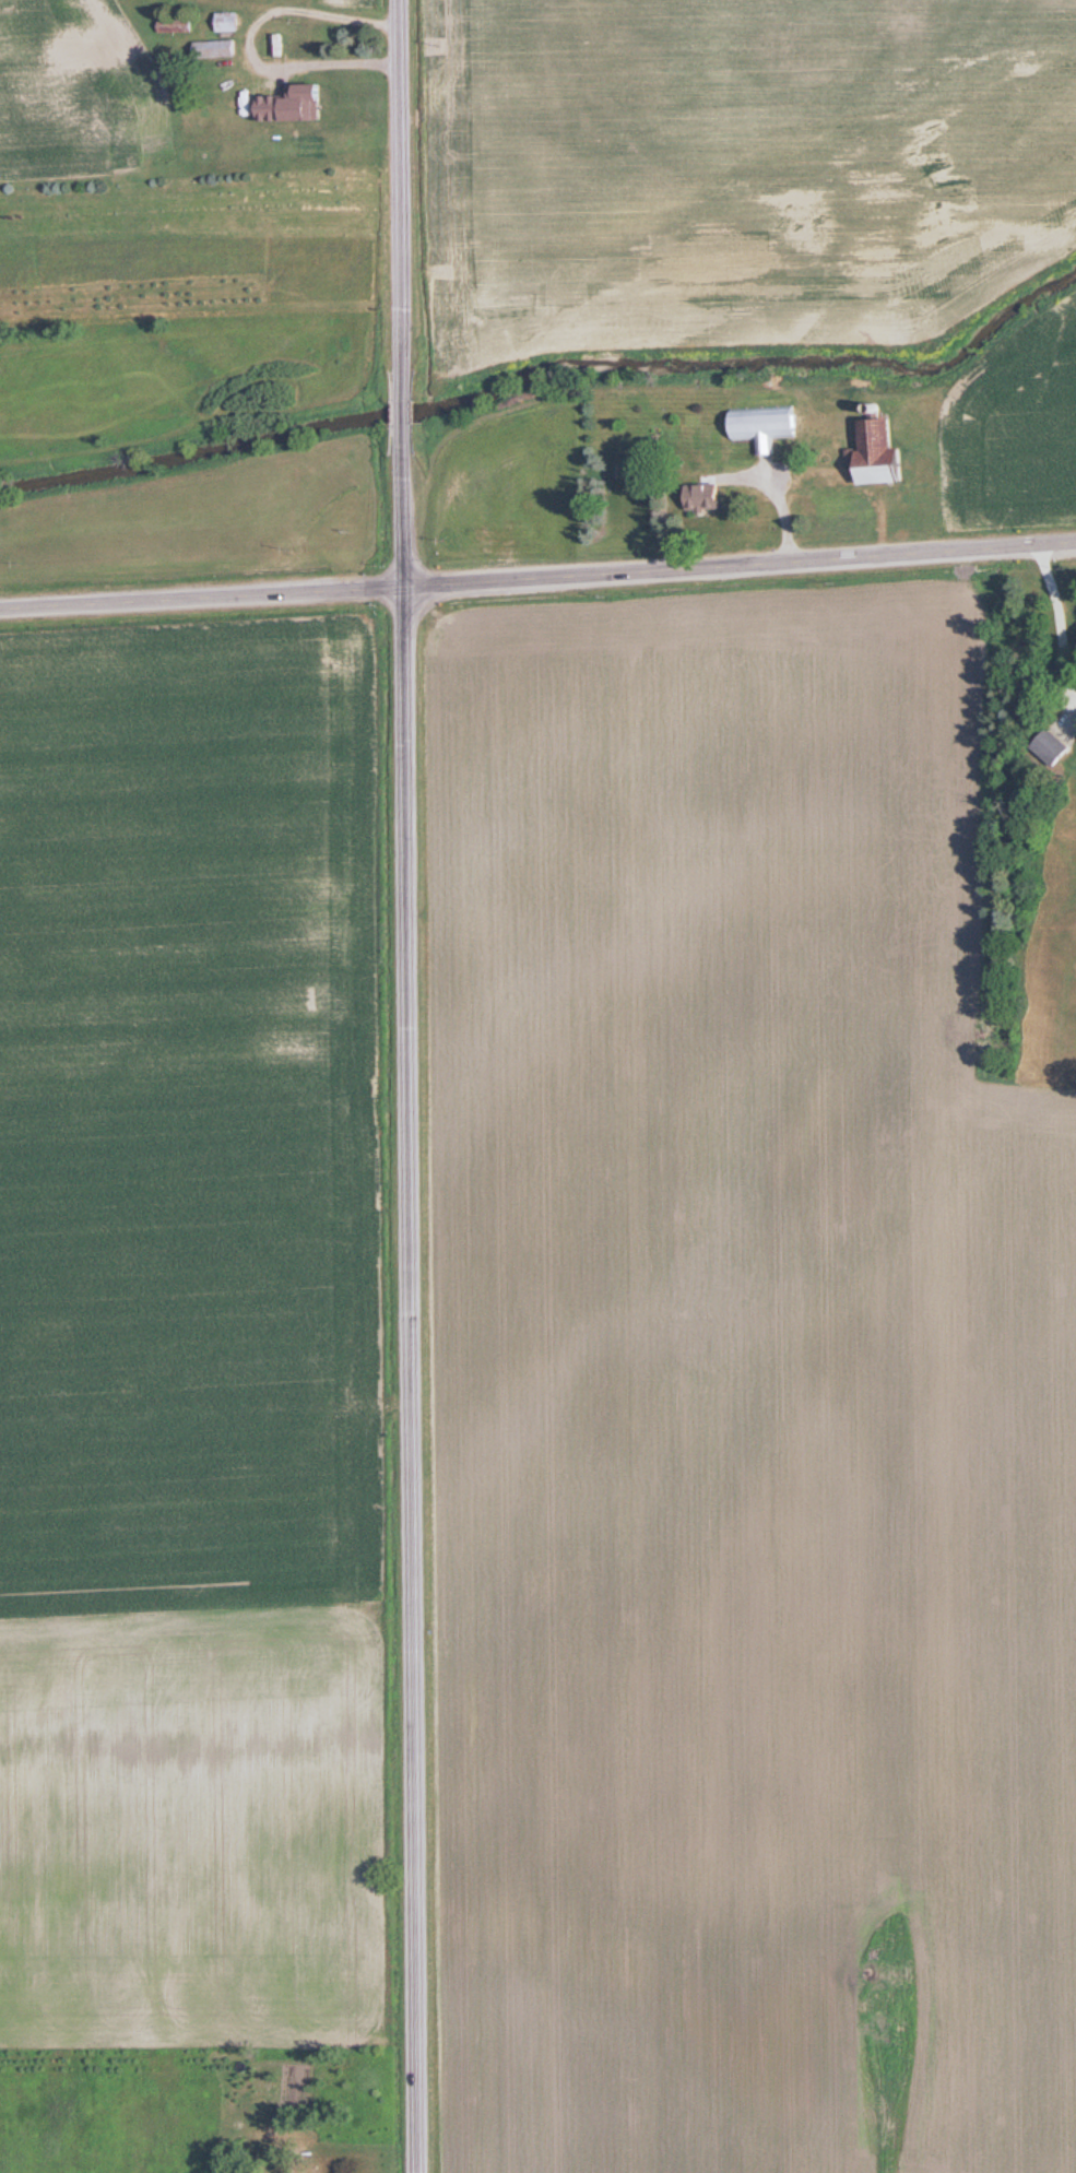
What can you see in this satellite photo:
building: (229, 21)
building: (176, 24)
road: (245, 38)
building: (304, 42)
building: (276, 45)
building: (216, 48)
building: (305, 103)
building: (767, 425)
building: (879, 453)
building: (706, 496)
road: (537, 578)
traffic signals: (405, 588)
road: (1060, 619)
building: (1051, 747)
road: (409, 1086)
building: (308, 2170)

